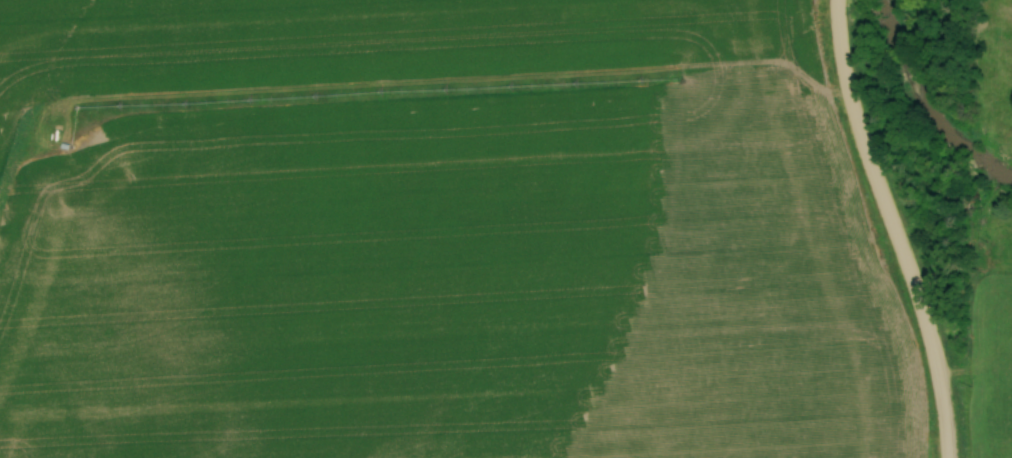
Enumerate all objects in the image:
road: (893, 228)

